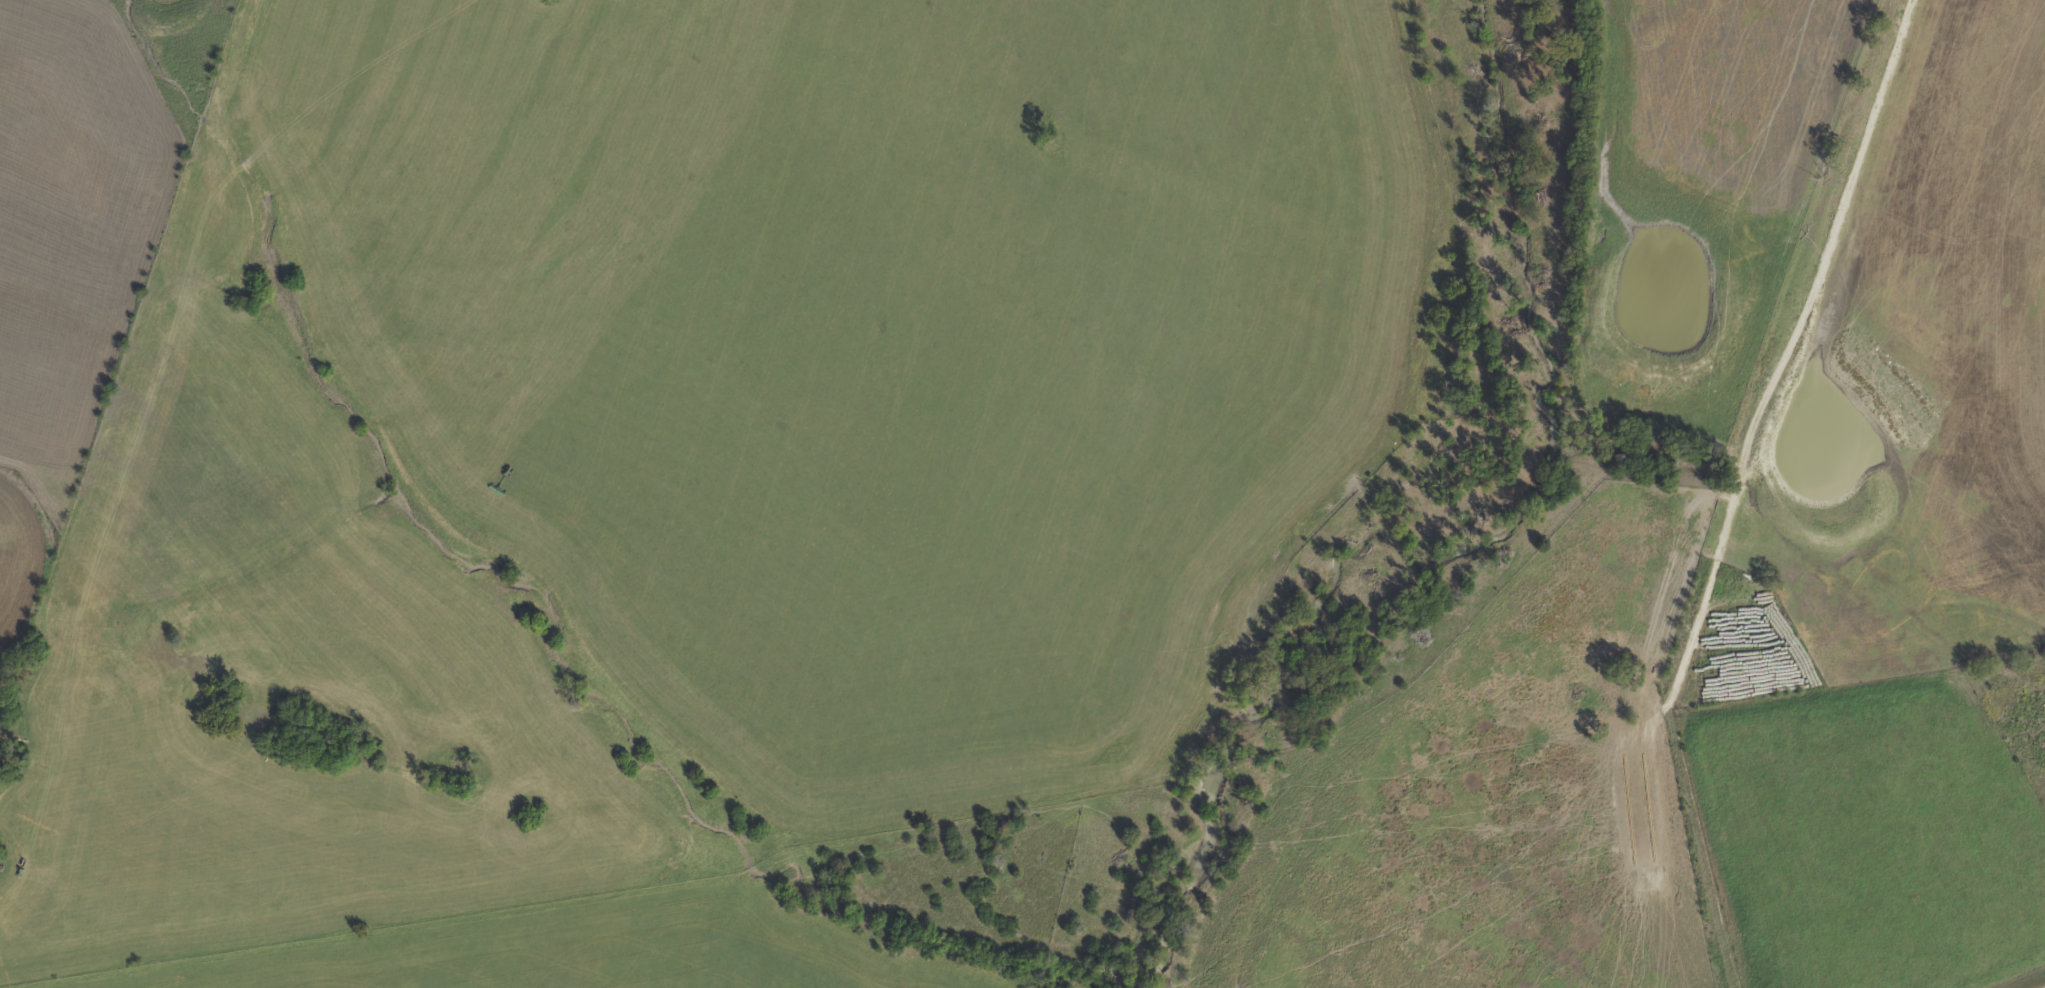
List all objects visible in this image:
road: (1743, 489)

